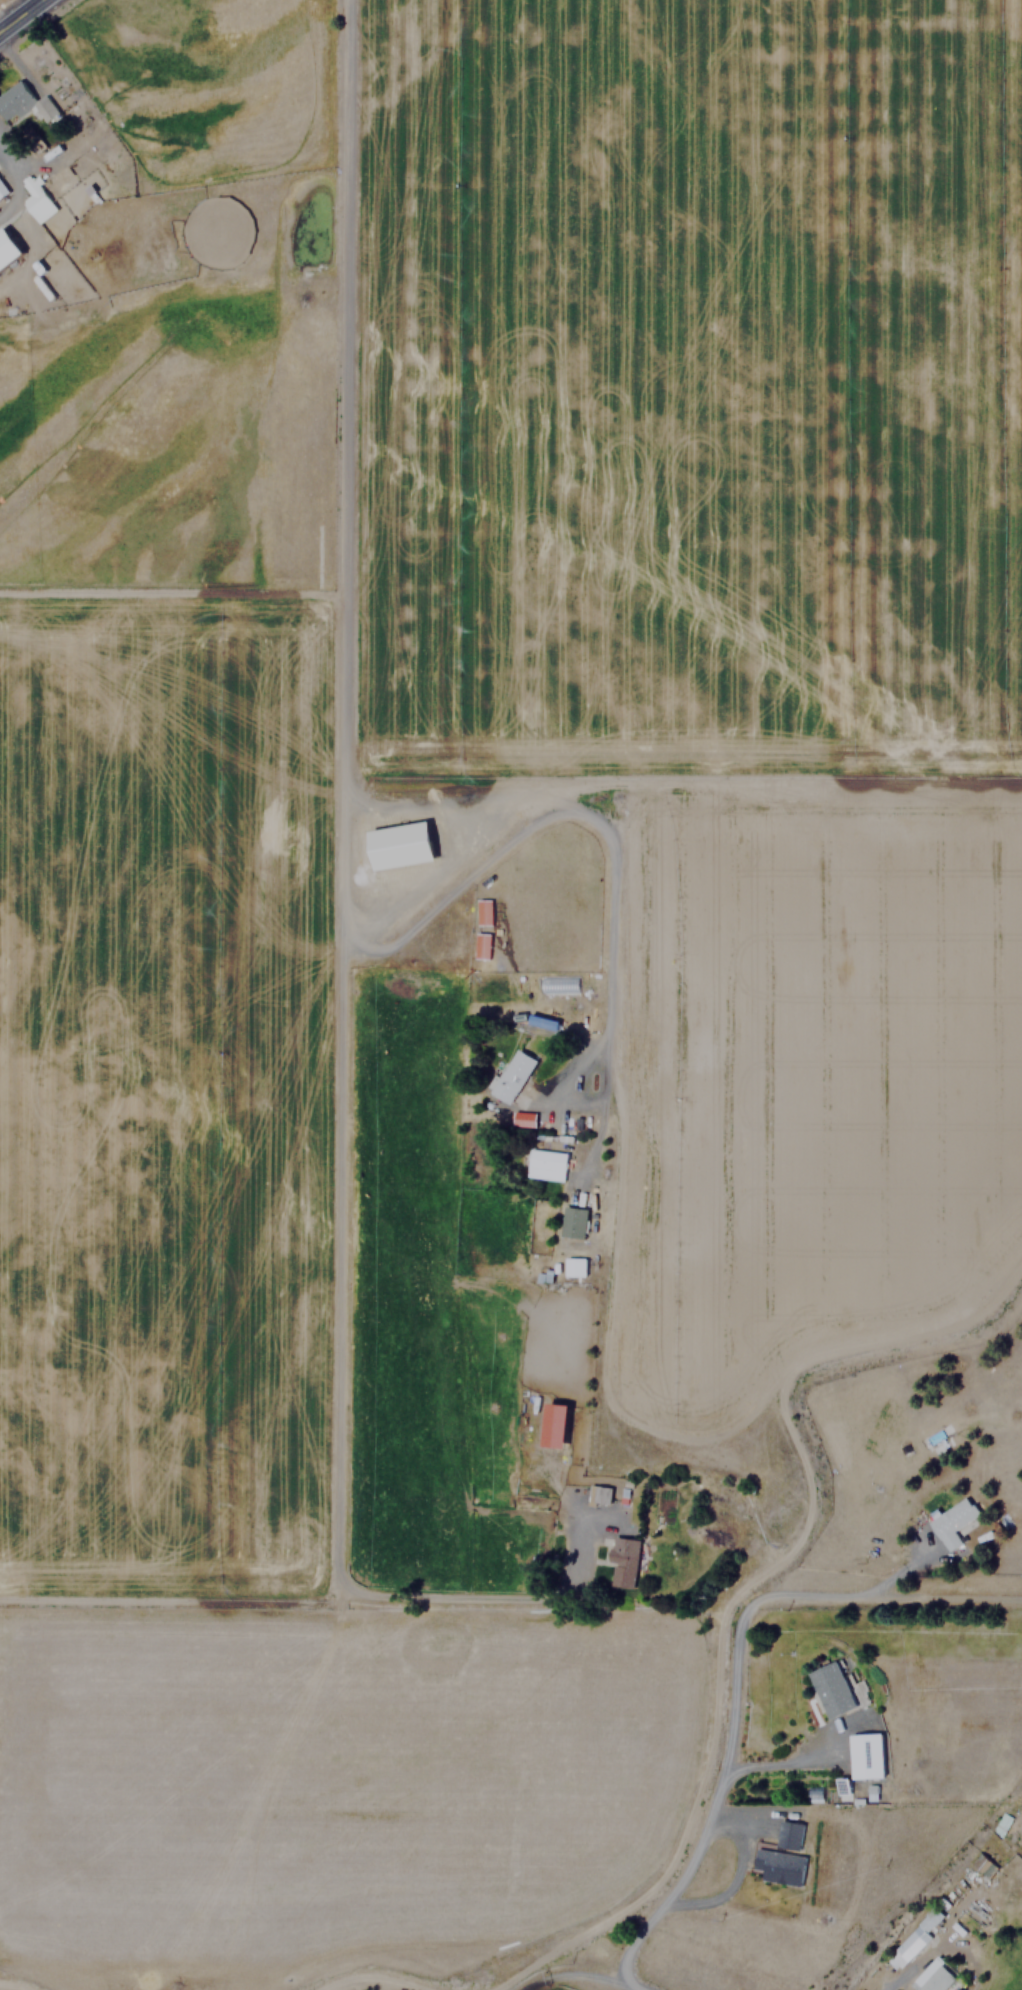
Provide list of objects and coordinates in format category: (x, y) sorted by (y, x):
road: (20, 15)
building: (22, 103)
building: (2, 190)
building: (37, 200)
building: (7, 249)
crop: (153, 798)
building: (400, 845)
road: (344, 879)
building: (543, 1021)
building: (513, 1076)
building: (523, 1118)
building: (546, 1164)
building: (573, 1222)
building: (574, 1267)
building: (555, 1424)
building: (597, 1494)
building: (952, 1523)
building: (621, 1562)
road: (735, 1667)
building: (830, 1689)
building: (864, 1755)
building: (813, 1792)
building: (1001, 1824)
building: (789, 1833)
building: (982, 1863)
building: (779, 1865)
building: (913, 1940)
road: (573, 1976)
building: (934, 1977)
road: (635, 1986)

